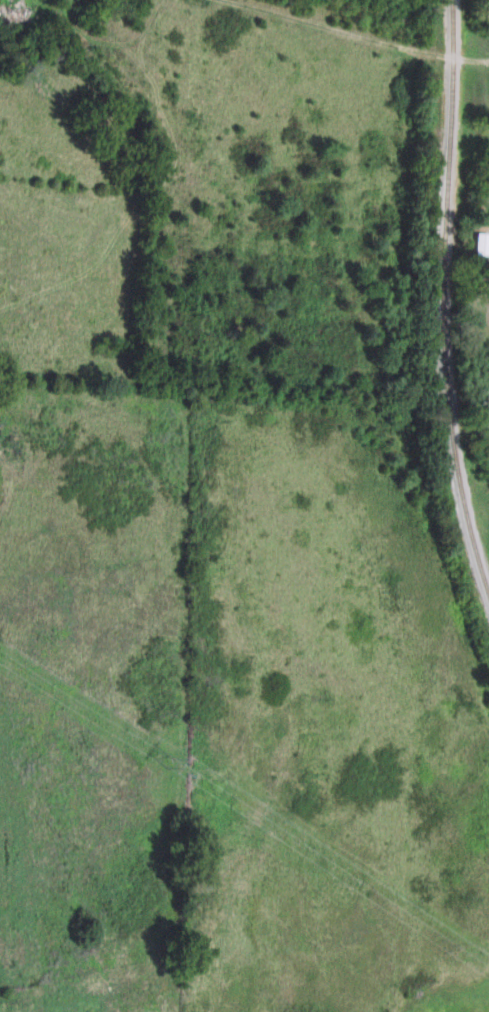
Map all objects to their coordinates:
building: (10, 17)
building: (478, 243)
railway: (442, 301)

